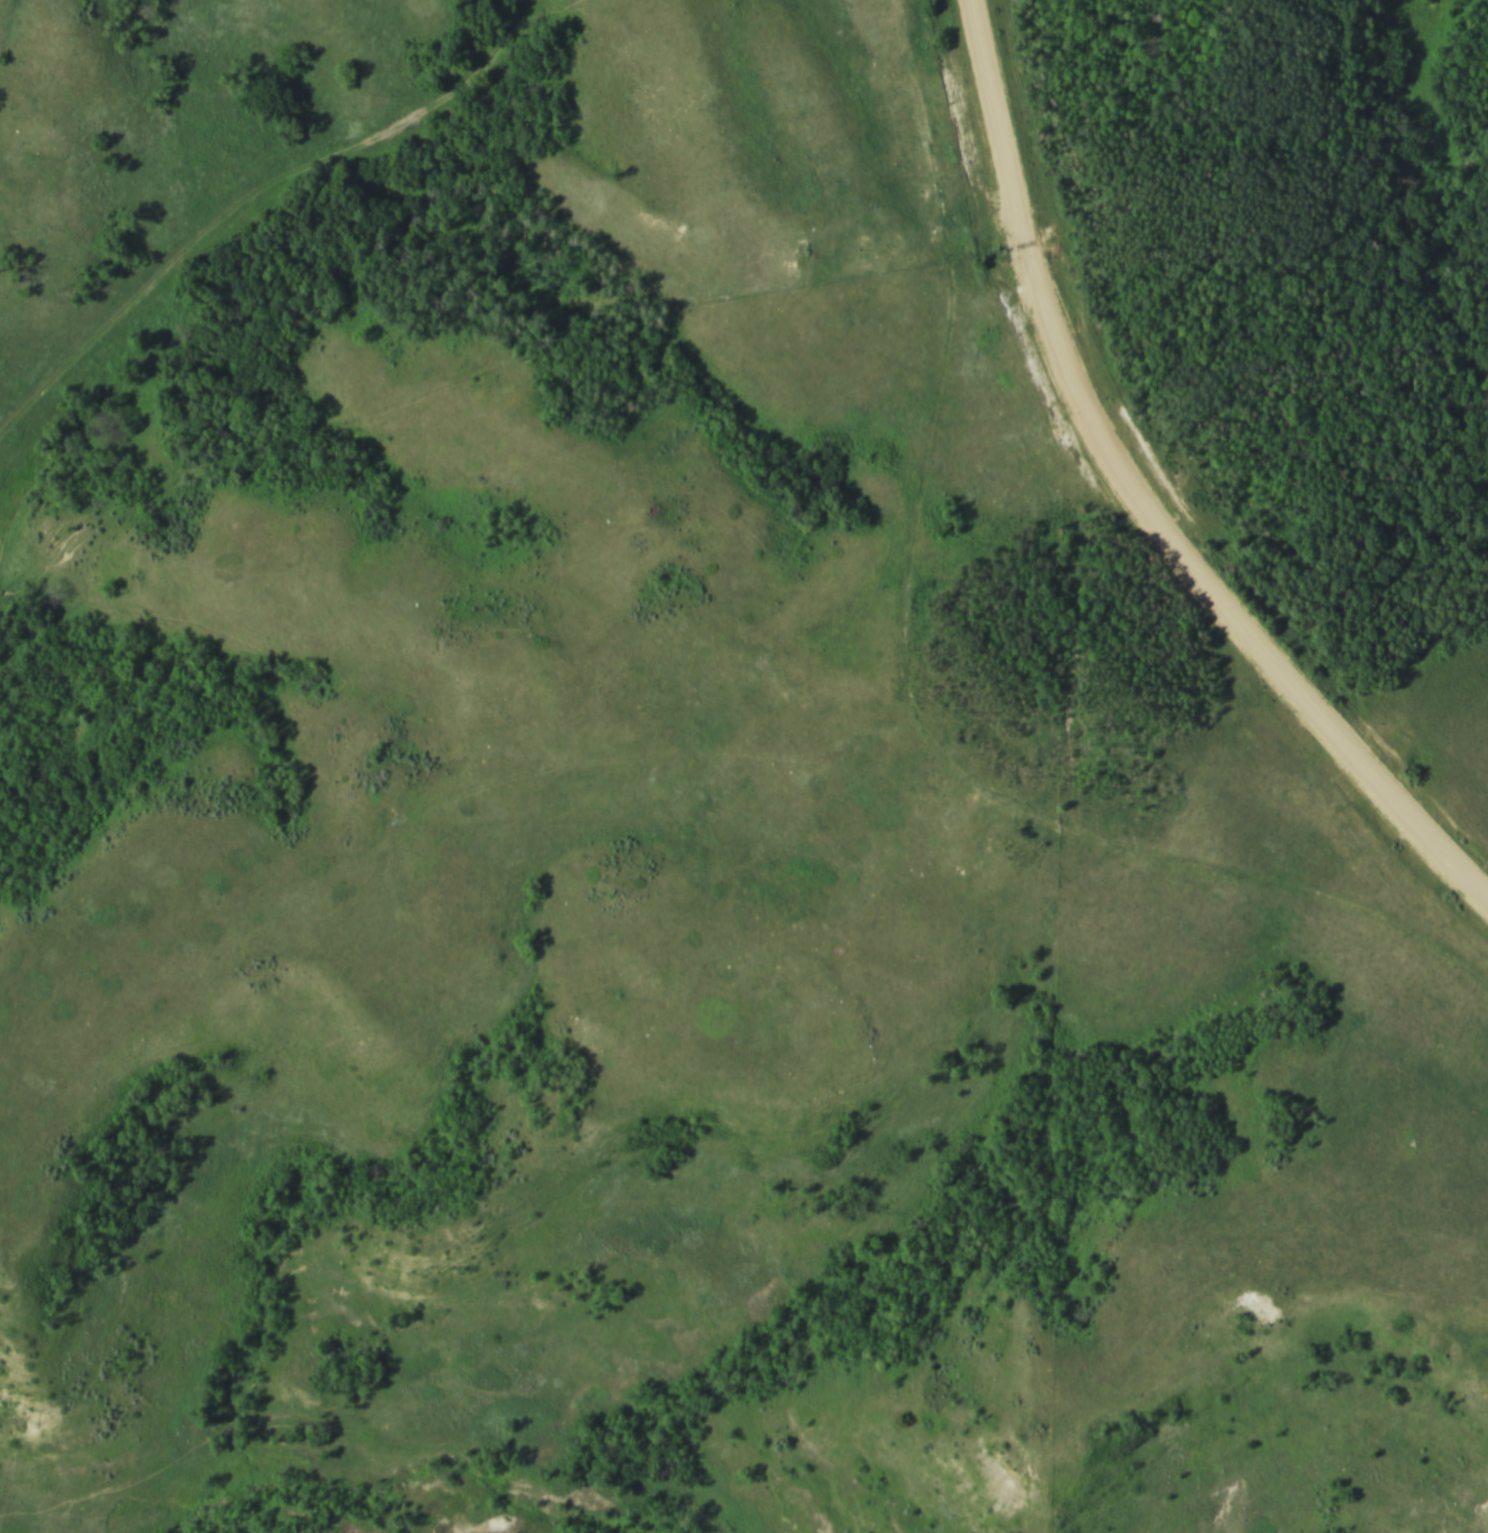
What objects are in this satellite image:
road: (263, 205)
road: (1138, 501)

